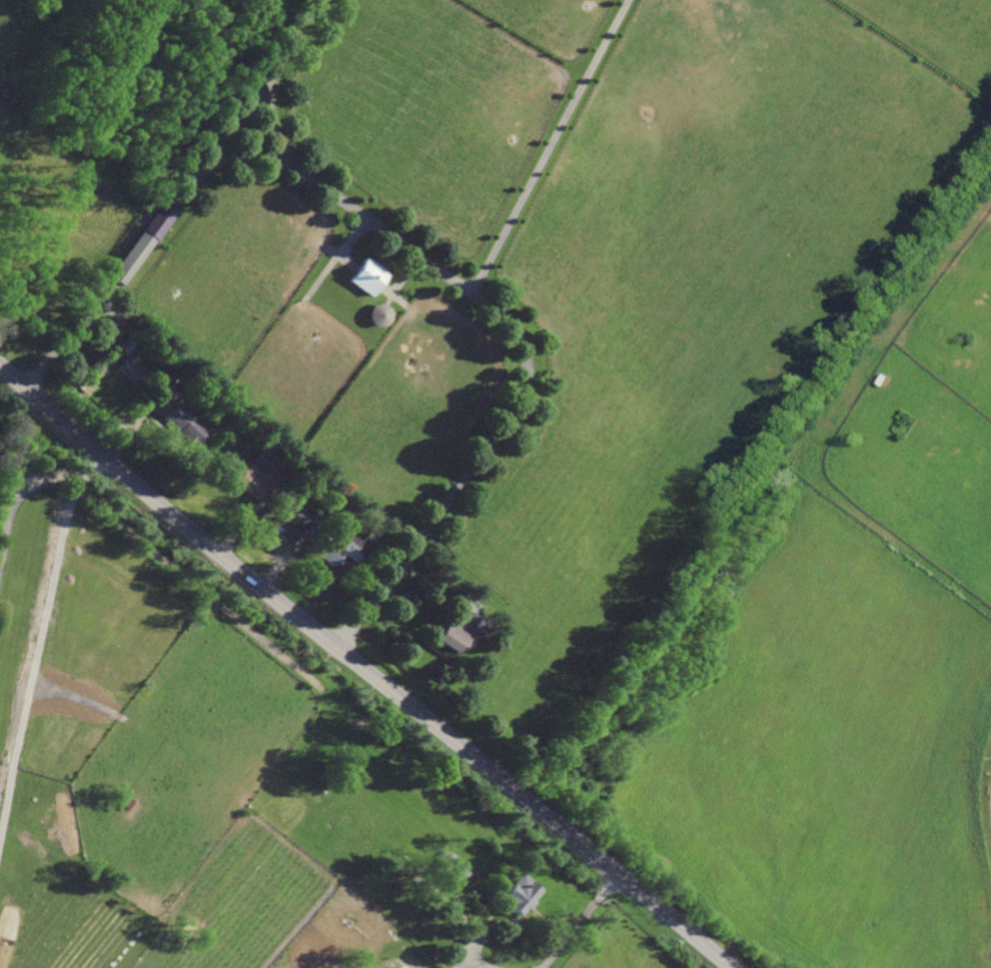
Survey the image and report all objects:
road: (549, 145)
road: (240, 159)
road: (171, 199)
building: (131, 254)
building: (366, 276)
building: (109, 286)
road: (515, 333)
building: (104, 334)
building: (126, 343)
building: (131, 369)
building: (156, 385)
building: (195, 392)
building: (182, 420)
building: (220, 431)
building: (250, 472)
building: (291, 497)
building: (325, 510)
building: (290, 528)
building: (337, 542)
building: (343, 549)
building: (483, 626)
building: (452, 637)
road: (364, 668)
building: (452, 865)
building: (517, 894)
road: (578, 920)
building: (501, 932)
road: (482, 965)
building: (401, 967)

